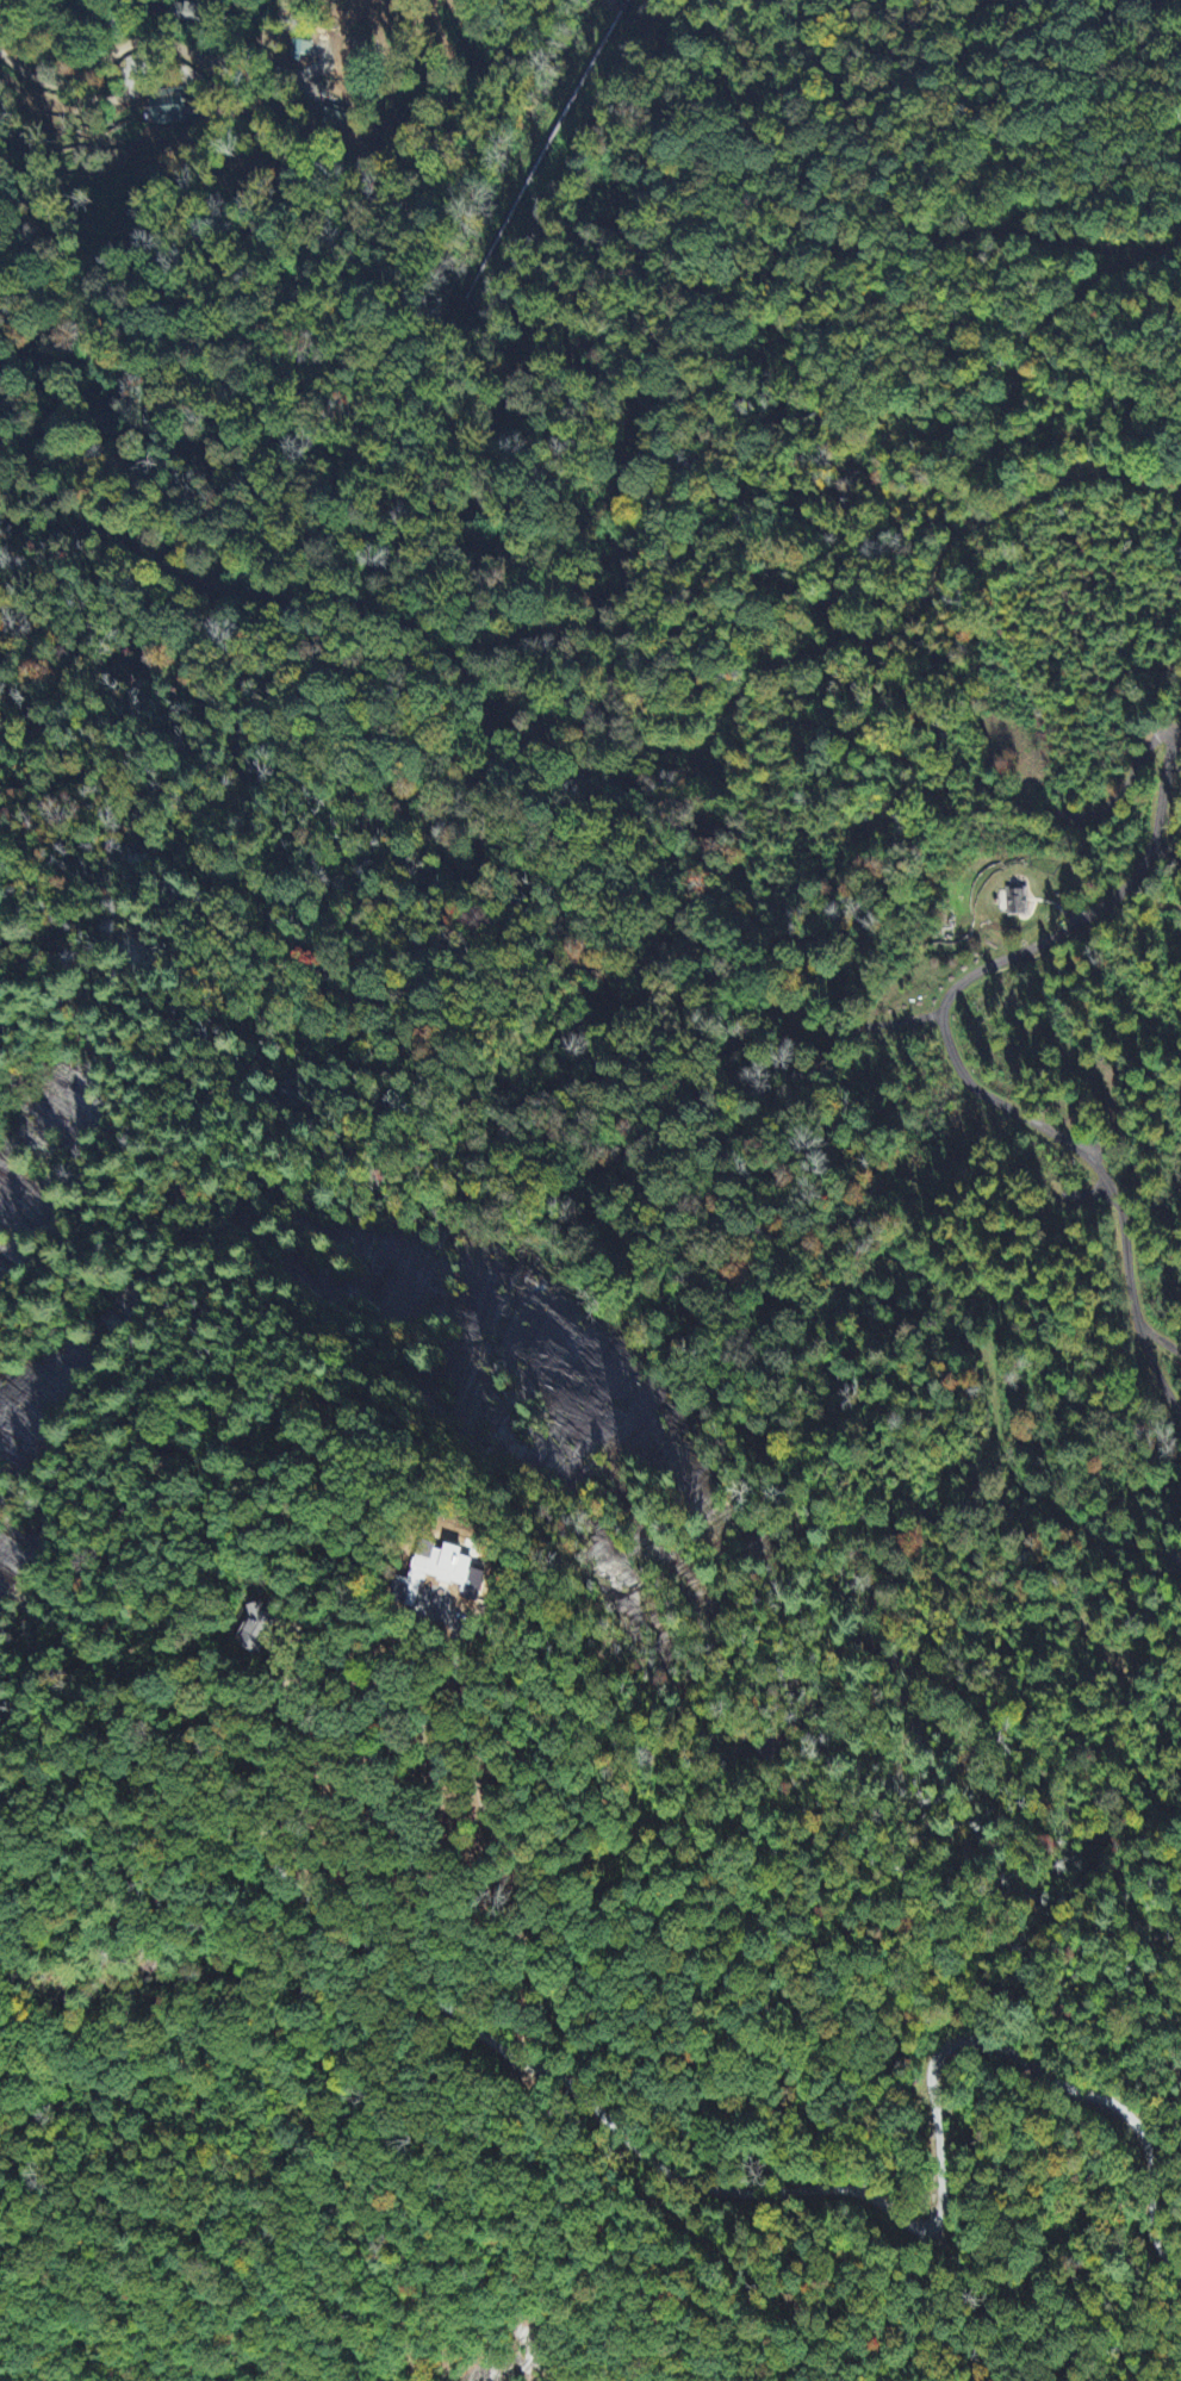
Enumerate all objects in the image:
building: (193, 15)
road: (154, 46)
building: (302, 54)
building: (166, 110)
road: (593, 757)
building: (1014, 902)
road: (959, 1067)
building: (440, 1575)
building: (260, 1630)
road: (745, 2192)

